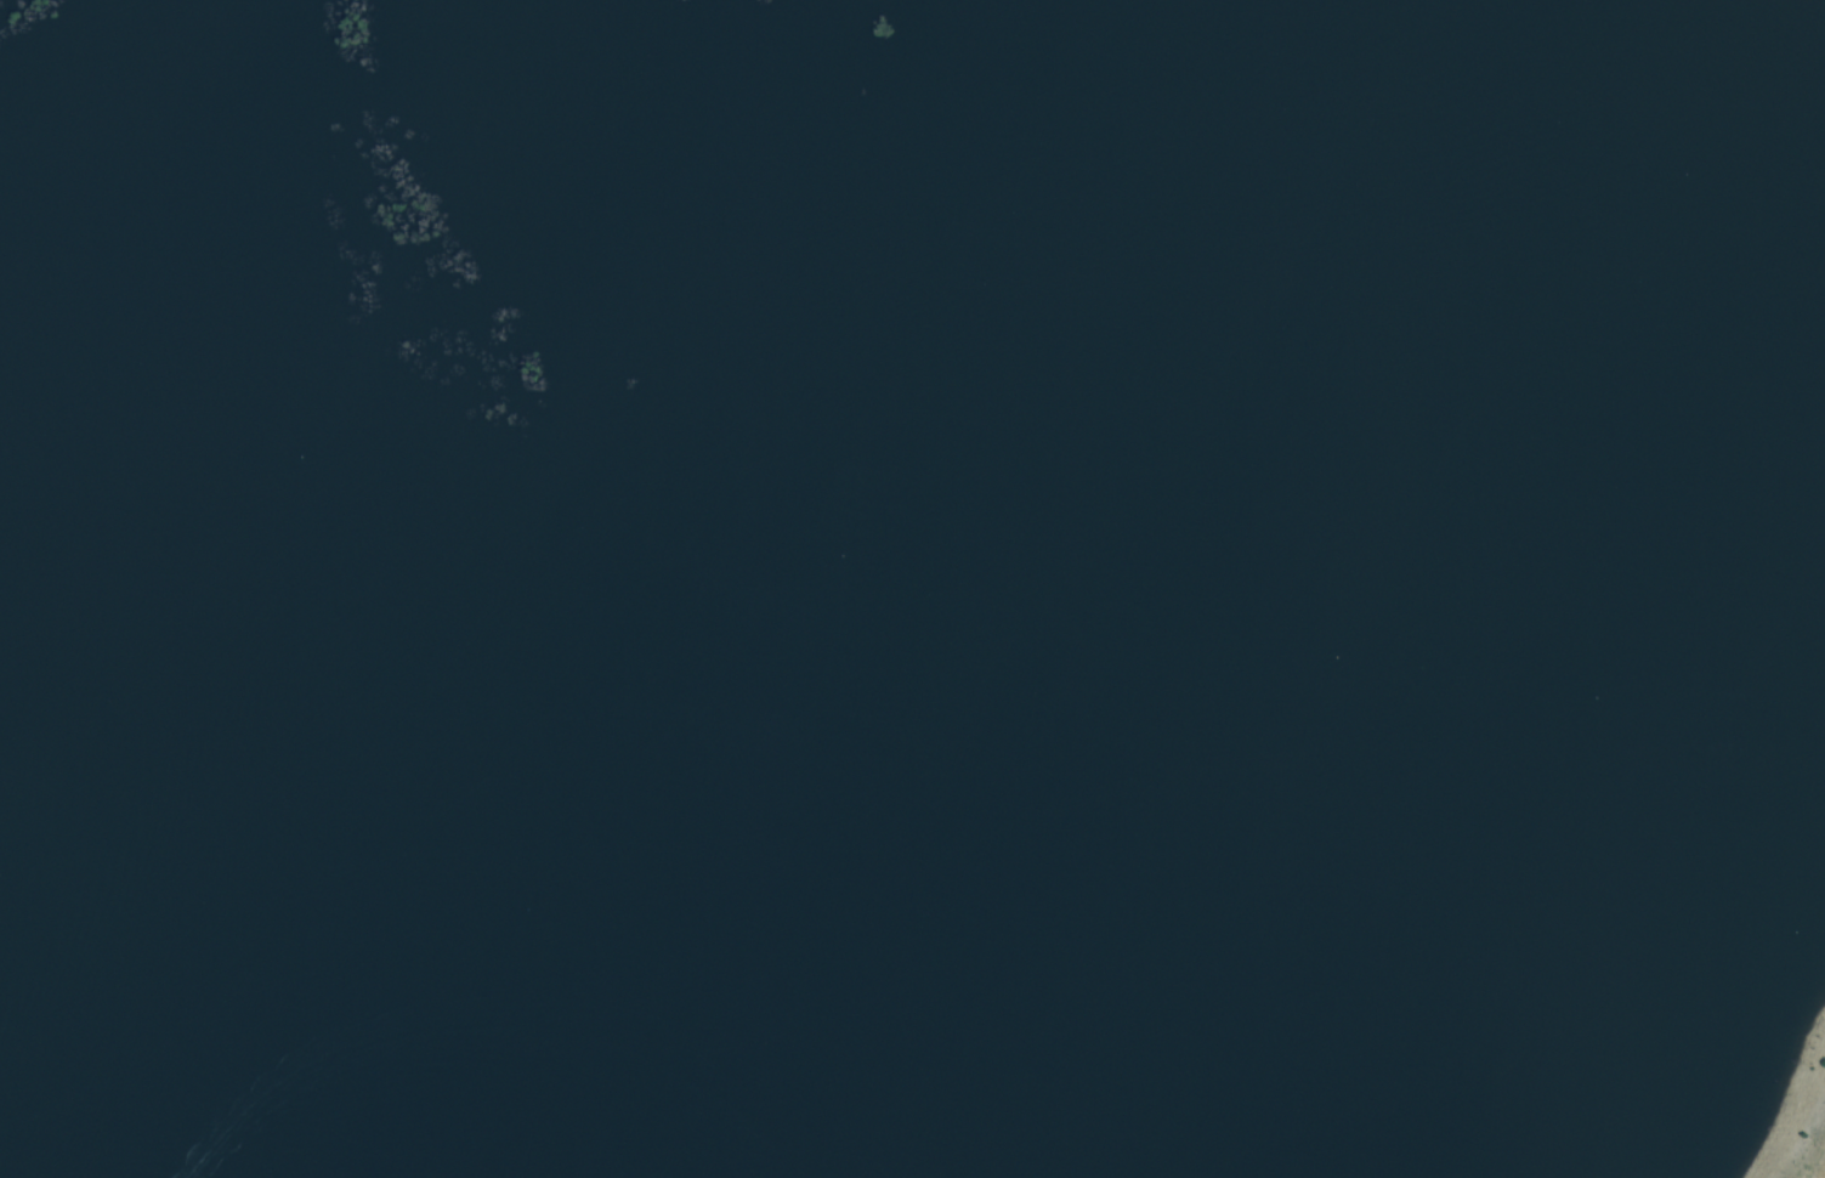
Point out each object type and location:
river: (72, 63)

